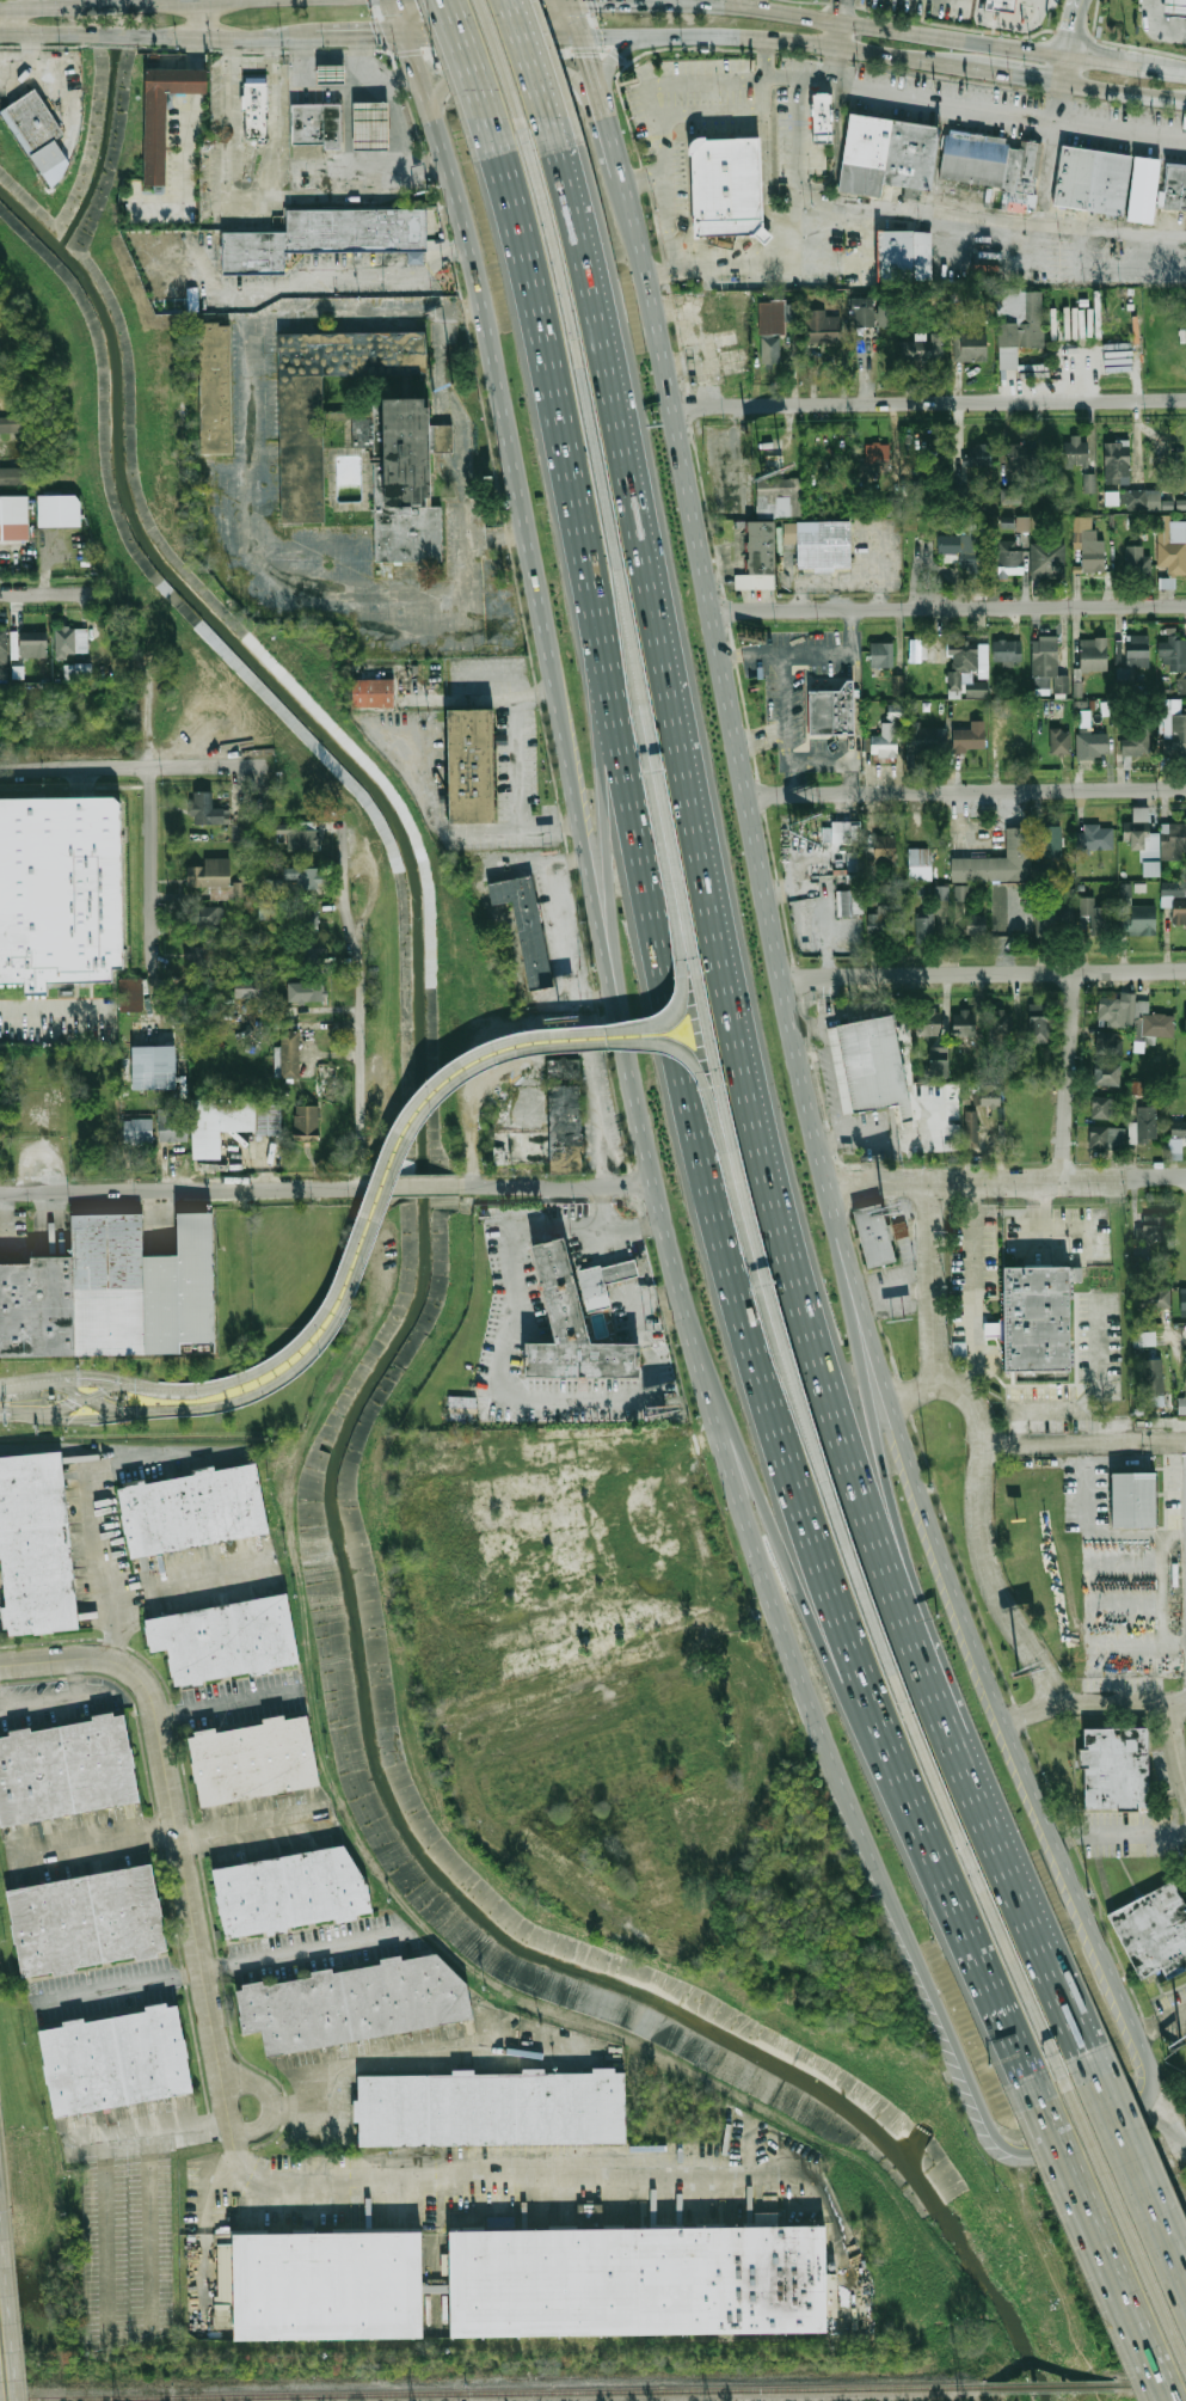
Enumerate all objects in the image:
road: (406, 0)
traffic signals: (418, 0)
road: (207, 1)
road: (274, 1)
road: (125, 5)
road: (48, 7)
building: (1002, 7)
building: (1176, 8)
gas station: (1176, 8)
road: (1039, 10)
road: (840, 11)
road: (574, 18)
road: (400, 19)
road: (204, 22)
road: (12, 23)
road: (998, 24)
road: (868, 25)
road: (1070, 26)
road: (1157, 26)
road: (1093, 29)
road: (836, 33)
road: (45, 37)
road: (122, 37)
road: (494, 38)
traffic signals: (557, 38)
road: (778, 38)
road: (234, 39)
road: (363, 39)
traffic signals: (377, 39)
road: (466, 57)
traffic signals: (588, 57)
road: (498, 59)
road: (529, 59)
road: (319, 60)
road: (250, 61)
road: (612, 61)
road: (1118, 61)
road: (835, 65)
road: (1064, 69)
road: (1178, 69)
road: (293, 73)
road: (592, 73)
building: (328, 74)
gas station: (328, 74)
road: (376, 75)
road: (1018, 76)
road: (684, 84)
road: (520, 88)
road: (1124, 93)
road: (1058, 103)
road: (975, 106)
building: (258, 108)
building: (161, 115)
road: (275, 115)
building: (819, 118)
building: (32, 121)
building: (315, 124)
building: (369, 125)
gas station: (369, 125)
road: (348, 137)
road: (398, 142)
road: (615, 145)
building: (884, 154)
building: (989, 167)
road: (1046, 172)
building: (418, 177)
building: (1088, 180)
building: (725, 186)
building: (1173, 186)
building: (1141, 189)
road: (227, 190)
road: (665, 201)
road: (792, 212)
road: (991, 219)
building: (326, 235)
road: (553, 244)
building: (904, 255)
road: (665, 274)
road: (319, 278)
road: (739, 278)
road: (461, 306)
building: (862, 312)
building: (883, 314)
building: (775, 316)
building: (822, 326)
building: (1019, 326)
building: (696, 342)
building: (922, 347)
building: (970, 347)
building: (770, 349)
road: (547, 378)
building: (441, 381)
building: (214, 388)
road: (930, 403)
road: (457, 421)
building: (7, 423)
building: (441, 439)
building: (301, 448)
building: (1075, 451)
building: (878, 454)
building: (981, 454)
building: (1022, 457)
building: (1117, 463)
building: (10, 472)
building: (1089, 483)
building: (407, 488)
building: (776, 495)
building: (1010, 495)
building: (1111, 498)
building: (1139, 500)
building: (1168, 500)
building: (62, 509)
road: (602, 509)
building: (17, 517)
building: (1022, 523)
building: (789, 532)
road: (494, 533)
building: (823, 545)
building: (1172, 549)
building: (960, 550)
building: (1090, 553)
building: (758, 557)
building: (1049, 561)
building: (1008, 562)
building: (1136, 562)
road: (837, 581)
road: (48, 595)
road: (950, 610)
road: (465, 635)
building: (69, 641)
building: (32, 644)
building: (4, 645)
building: (918, 650)
building: (1006, 650)
road: (543, 651)
building: (1136, 651)
road: (806, 653)
building: (881, 654)
building: (1175, 654)
building: (1093, 655)
building: (961, 660)
building: (1047, 661)
building: (76, 672)
building: (1123, 674)
road: (727, 681)
building: (898, 685)
building: (1181, 686)
building: (1077, 690)
building: (375, 693)
road: (502, 696)
road: (855, 708)
building: (830, 709)
building: (1175, 731)
road: (761, 736)
building: (887, 736)
building: (966, 739)
building: (927, 740)
building: (1059, 740)
building: (1137, 741)
building: (1013, 743)
building: (1092, 743)
road: (782, 757)
building: (472, 767)
road: (131, 768)
road: (966, 792)
building: (207, 809)
road: (153, 828)
building: (846, 832)
building: (1094, 837)
building: (1176, 837)
building: (1052, 838)
building: (1143, 840)
building: (1018, 844)
building: (884, 851)
building: (855, 859)
building: (920, 863)
building: (972, 866)
road: (607, 871)
building: (303, 876)
building: (216, 878)
building: (961, 892)
building: (60, 894)
building: (270, 898)
building: (1175, 898)
building: (849, 902)
building: (1058, 914)
building: (1094, 914)
building: (1135, 914)
building: (205, 915)
building: (307, 920)
building: (526, 924)
building: (886, 924)
building: (976, 924)
building: (1046, 924)
building: (924, 925)
building: (195, 956)
road: (984, 974)
building: (251, 987)
building: (306, 991)
building: (130, 994)
road: (570, 997)
building: (173, 1005)
road: (732, 1006)
building: (1141, 1006)
road: (358, 1009)
building: (1112, 1010)
road: (54, 1016)
building: (1185, 1018)
road: (703, 1021)
building: (927, 1021)
building: (963, 1022)
building: (1038, 1023)
building: (1000, 1024)
building: (1155, 1025)
road: (524, 1035)
building: (1107, 1043)
road: (523, 1047)
building: (289, 1054)
building: (869, 1065)
building: (156, 1066)
building: (936, 1066)
building: (908, 1070)
road: (1069, 1078)
building: (1107, 1078)
building: (990, 1094)
building: (1022, 1095)
building: (1104, 1108)
road: (467, 1113)
building: (221, 1122)
building: (1027, 1122)
building: (306, 1123)
building: (1144, 1125)
building: (172, 1126)
building: (970, 1127)
building: (1178, 1128)
building: (137, 1129)
building: (549, 1135)
building: (1106, 1137)
road: (1007, 1183)
road: (426, 1184)
road: (555, 1184)
road: (192, 1189)
road: (628, 1225)
building: (1153, 1227)
building: (873, 1235)
road: (711, 1241)
building: (619, 1268)
road: (972, 1268)
building: (113, 1294)
road: (517, 1294)
building: (1153, 1299)
building: (1182, 1301)
road: (935, 1306)
building: (1033, 1315)
building: (572, 1318)
building: (993, 1329)
road: (1178, 1336)
building: (414, 1337)
building: (1143, 1339)
river: (385, 1360)
road: (74, 1376)
building: (1041, 1376)
building: (1151, 1382)
road: (54, 1384)
road: (116, 1388)
road: (171, 1388)
road: (1090, 1395)
road: (891, 1402)
building: (1181, 1405)
building: (461, 1407)
road: (64, 1408)
road: (115, 1408)
road: (14, 1409)
road: (173, 1410)
road: (14, 1416)
road: (87, 1419)
road: (1019, 1434)
road: (1082, 1441)
road: (112, 1447)
road: (731, 1494)
building: (1132, 1496)
building: (195, 1511)
road: (895, 1532)
road: (836, 1536)
road: (979, 1537)
road: (781, 1544)
building: (37, 1546)
road: (110, 1569)
road: (196, 1576)
road: (1141, 1627)
building: (227, 1643)
road: (54, 1698)
road: (1093, 1699)
road: (232, 1719)
road: (1178, 1737)
building: (256, 1763)
building: (1114, 1766)
building: (67, 1771)
road: (841, 1782)
road: (1047, 1824)
road: (167, 1827)
road: (1118, 1831)
road: (174, 1838)
road: (971, 1870)
building: (291, 1889)
building: (88, 1918)
building: (1154, 1931)
road: (964, 1947)
road: (1049, 1956)
road: (228, 1960)
building: (354, 2003)
road: (1160, 2019)
building: (118, 2059)
road: (960, 2062)
road: (361, 2063)
road: (1147, 2069)
road: (266, 2096)
building: (492, 2108)
road: (1169, 2118)
road: (149, 2126)
road: (236, 2156)
road: (1135, 2166)
road: (492, 2167)
road: (4, 2174)
building: (590, 2216)
road: (1120, 2216)
road: (149, 2222)
road: (104, 2234)
road: (1094, 2237)
road: (203, 2243)
building: (638, 2281)
building: (324, 2286)
road: (17, 2304)
river: (1031, 2376)
road: (1, 2382)
railway: (1151, 2384)
railway: (1051, 2387)
railway: (494, 2395)

